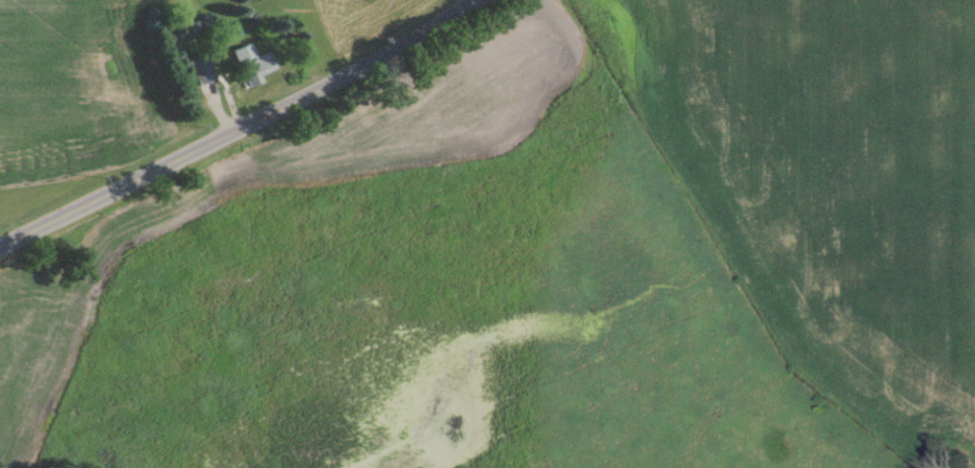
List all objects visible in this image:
building: (252, 65)
building: (201, 68)
road: (242, 134)

